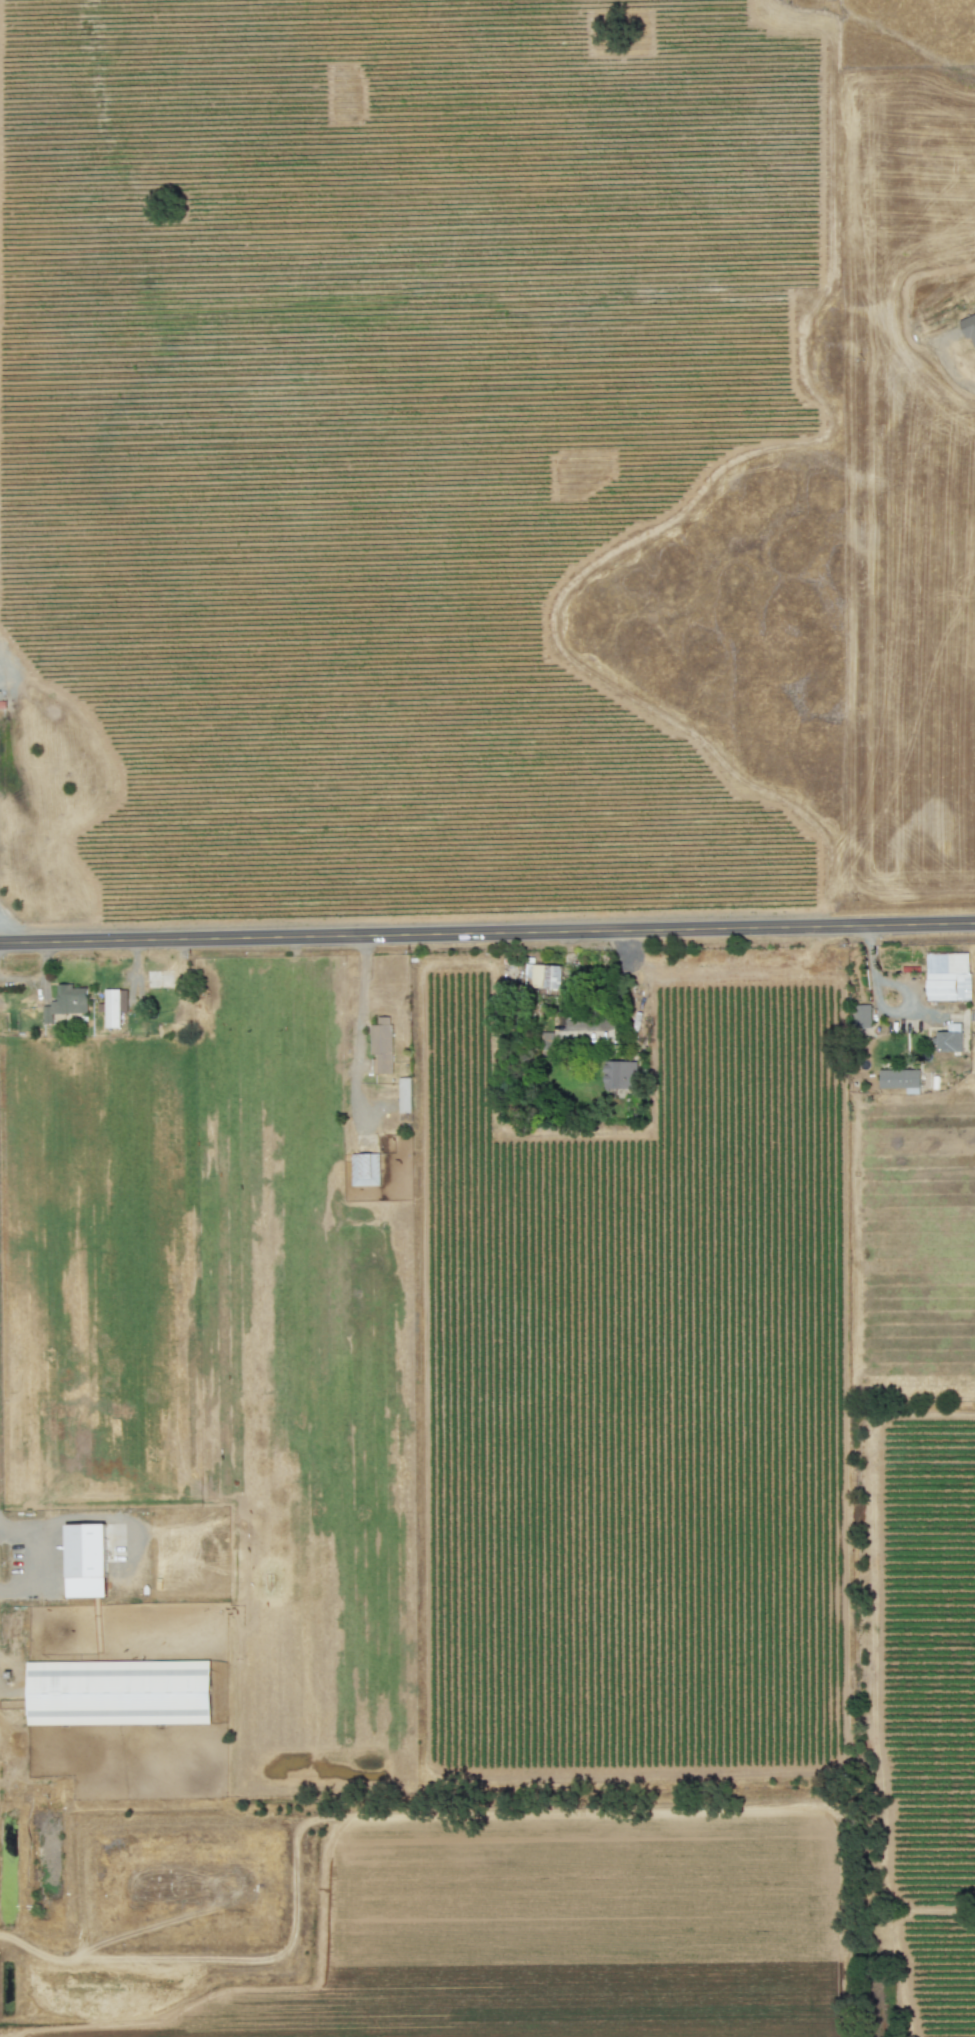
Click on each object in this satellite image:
building: (974, 309)
building: (969, 328)
road: (954, 374)
road: (487, 934)
building: (542, 976)
building: (947, 977)
road: (616, 984)
road: (360, 1002)
road: (878, 1002)
building: (66, 1003)
building: (114, 1007)
building: (861, 1016)
building: (948, 1039)
building: (546, 1041)
building: (380, 1046)
building: (619, 1075)
building: (900, 1080)
building: (404, 1095)
building: (85, 1561)
building: (118, 1693)

